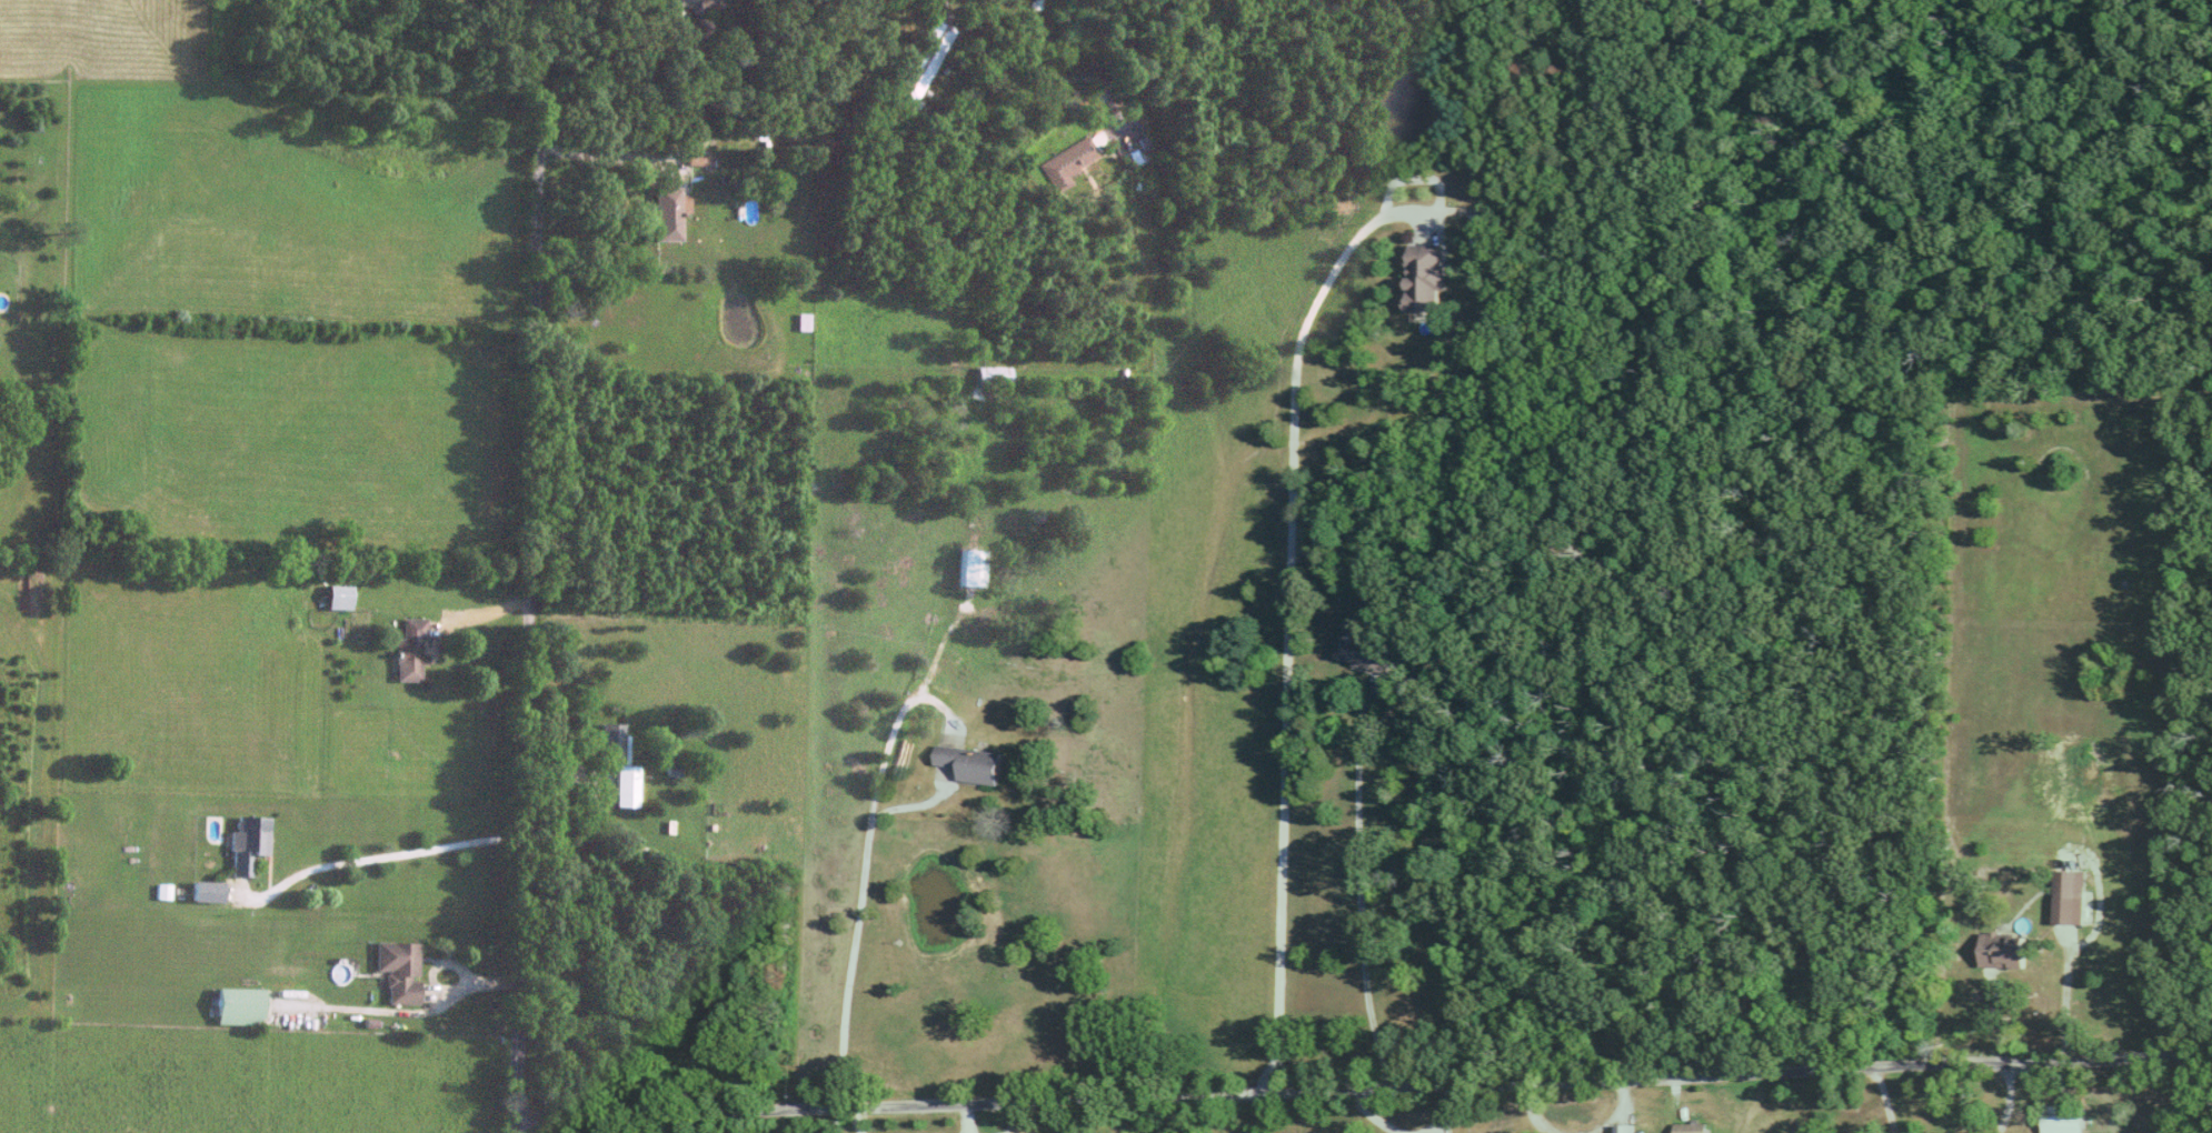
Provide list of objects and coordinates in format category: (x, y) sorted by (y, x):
building: (694, 2)
building: (919, 64)
road: (1114, 76)
building: (1074, 157)
road: (629, 158)
building: (666, 213)
building: (1427, 277)
building: (801, 321)
building: (990, 374)
road: (535, 566)
building: (969, 568)
building: (339, 596)
road: (484, 612)
road: (1287, 621)
building: (1364, 648)
building: (410, 649)
building: (612, 742)
road: (955, 742)
building: (975, 763)
road: (584, 766)
building: (627, 785)
building: (248, 841)
road: (365, 864)
road: (1365, 888)
building: (207, 891)
building: (2070, 895)
building: (2004, 950)
road: (855, 963)
building: (400, 970)
road: (2070, 999)
building: (239, 1005)
building: (572, 1050)
road: (1366, 1093)
road: (1887, 1103)
road: (2017, 1103)
road: (1533, 1113)
road: (1615, 1115)
building: (2064, 1119)
building: (1692, 1127)
building: (1627, 1129)

